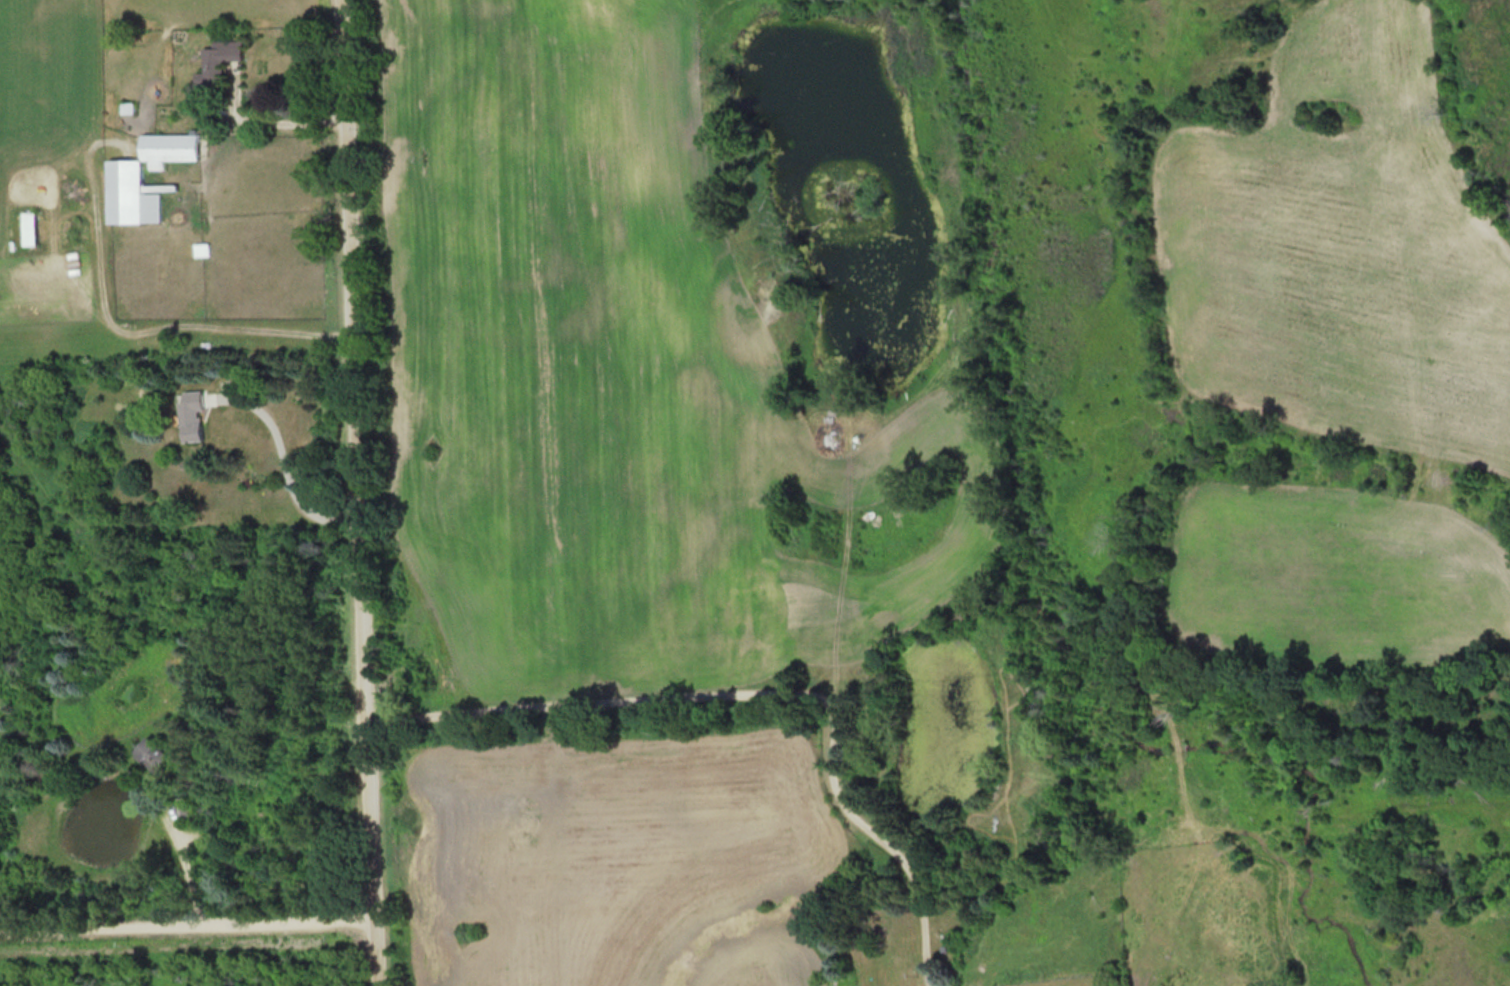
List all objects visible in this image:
building: (220, 57)
road: (281, 118)
building: (127, 179)
building: (29, 227)
road: (142, 325)
road: (289, 468)
road: (365, 492)
road: (764, 690)
building: (153, 755)
building: (186, 807)
road: (185, 862)
road: (190, 919)

